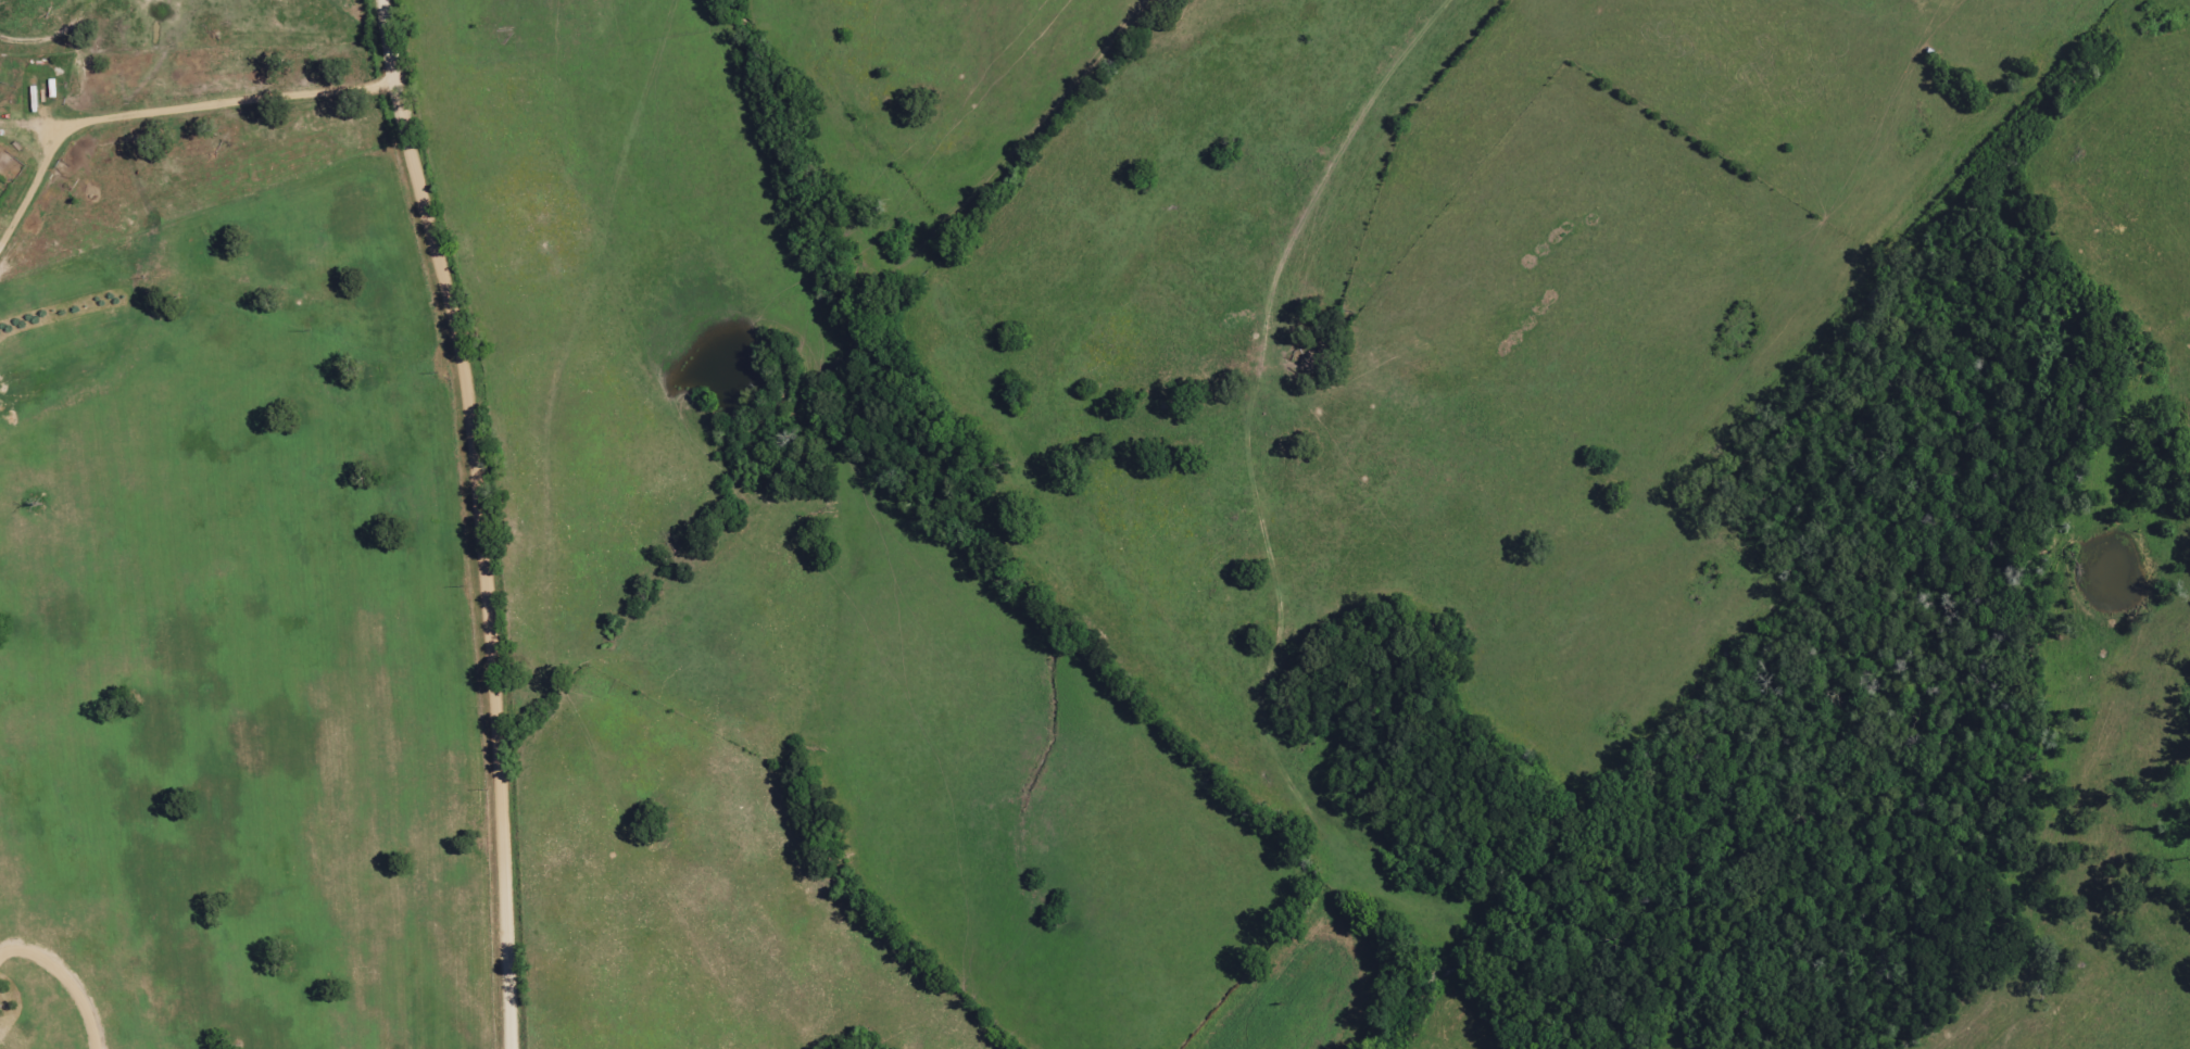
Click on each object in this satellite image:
building: (0, 141)
road: (486, 519)

